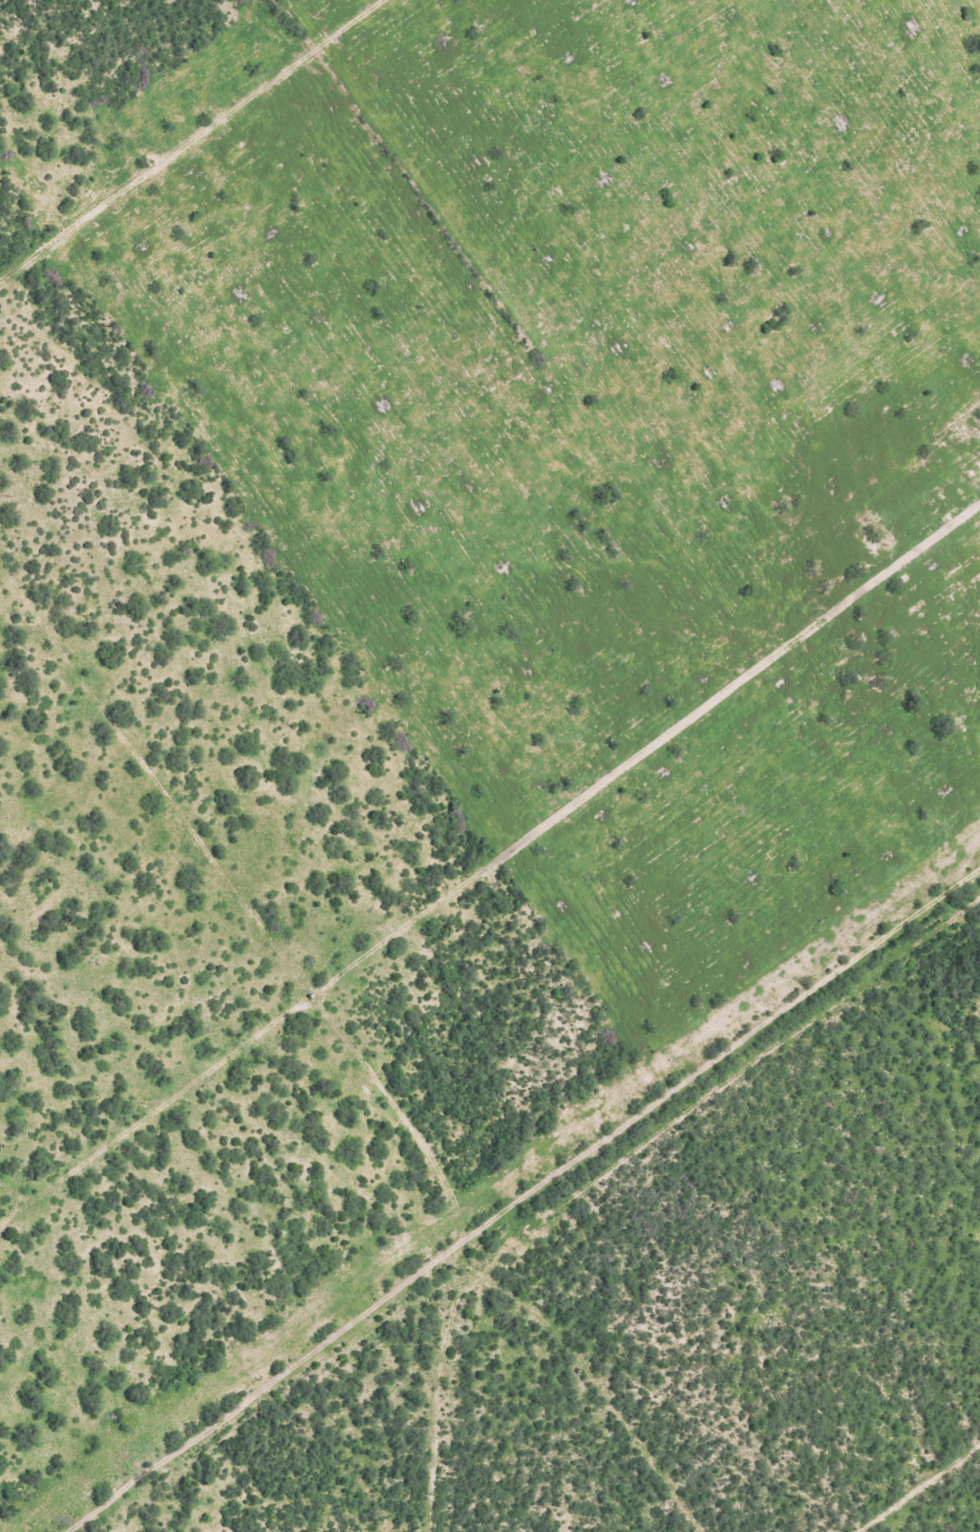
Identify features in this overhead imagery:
road: (535, 1209)

